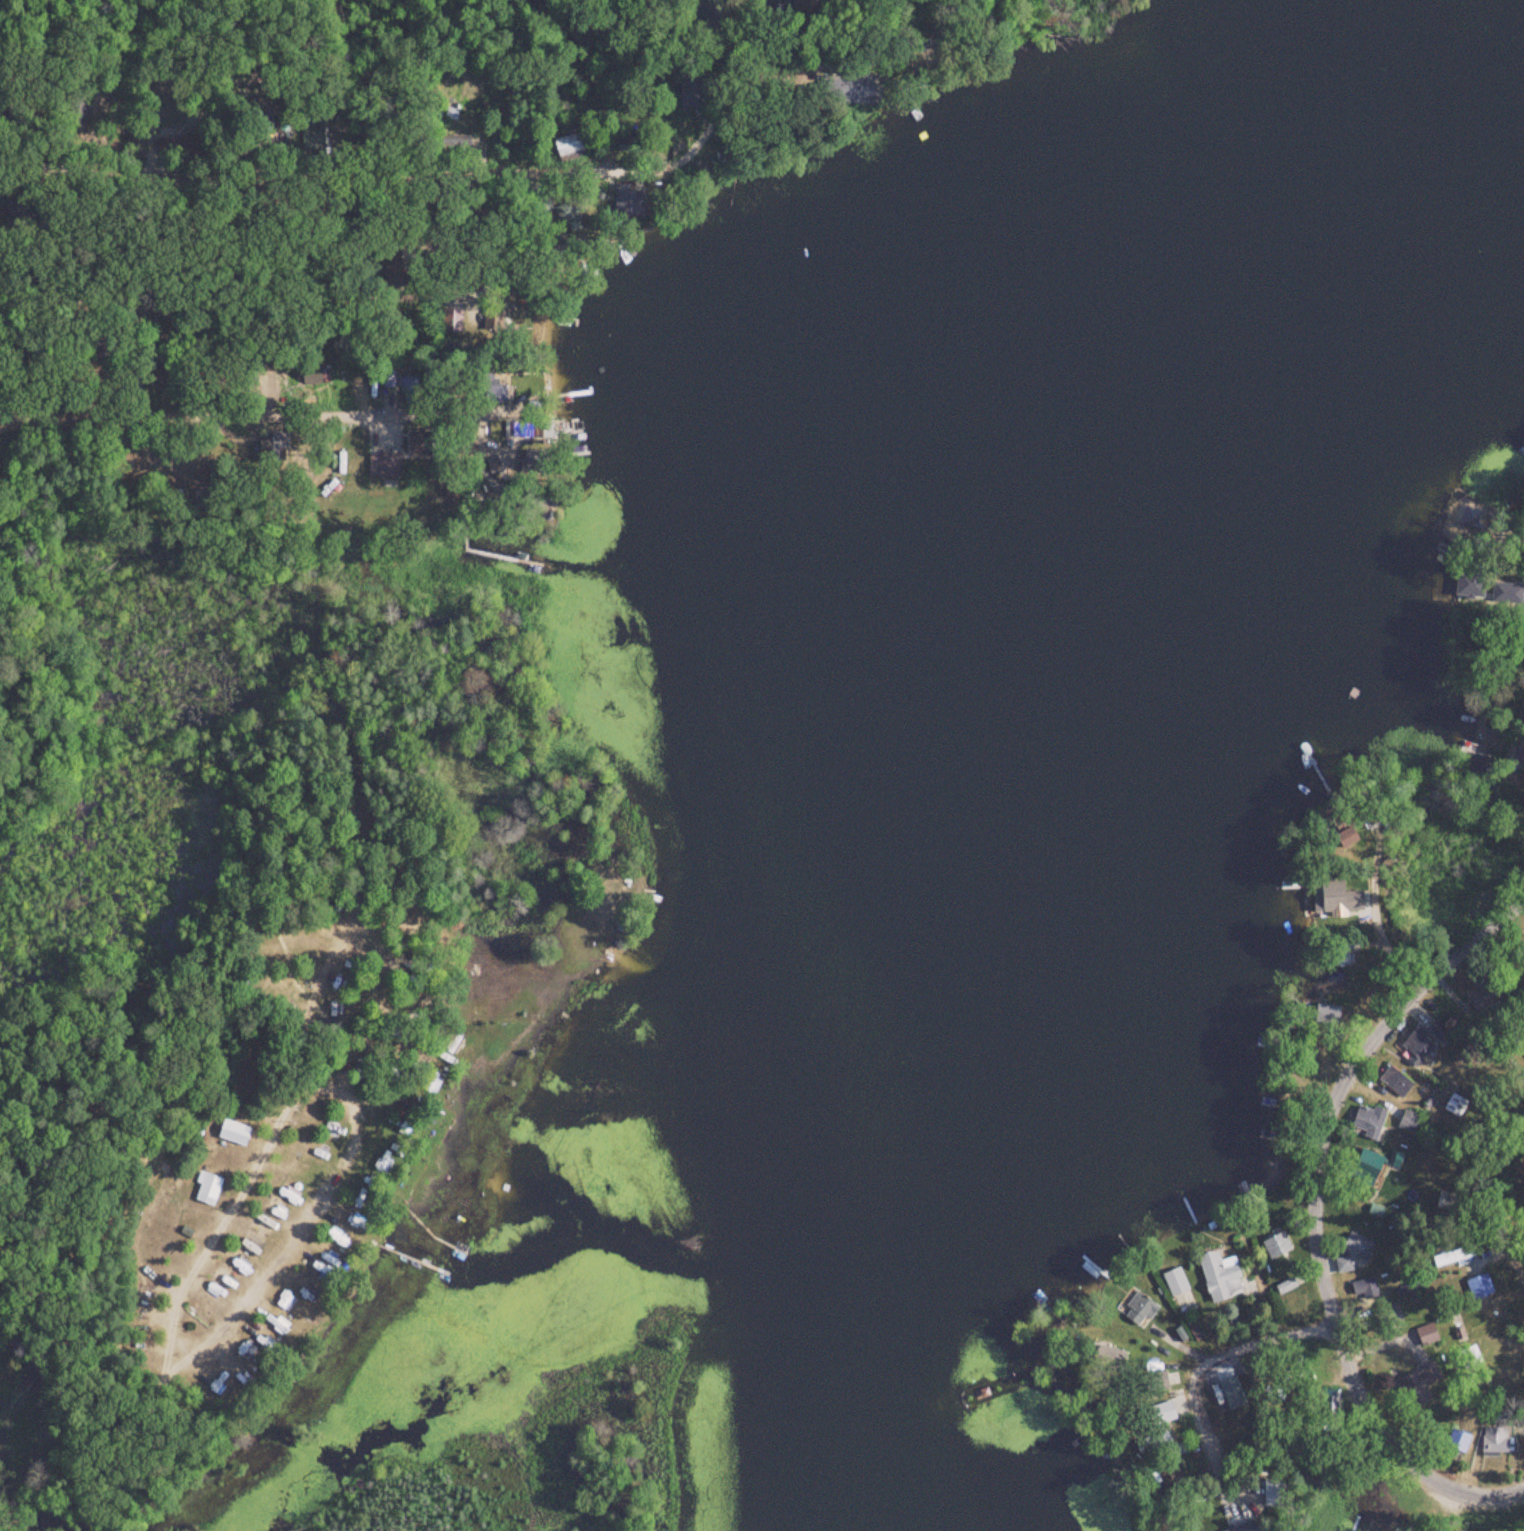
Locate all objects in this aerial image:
building: (688, 90)
road: (269, 152)
road: (244, 345)
road: (268, 392)
building: (421, 444)
building: (1472, 519)
road: (278, 525)
building: (1474, 587)
building: (1337, 895)
road: (1368, 903)
building: (1482, 1000)
road: (343, 1093)
building: (1408, 1121)
building: (234, 1133)
building: (380, 1162)
building: (208, 1190)
road: (1298, 1196)
road: (1487, 1198)
building: (1447, 1201)
building: (1274, 1247)
building: (1356, 1247)
building: (1220, 1279)
building: (1366, 1288)
building: (1478, 1288)
building: (1427, 1334)
road: (1182, 1338)
building: (1416, 1381)
building: (1494, 1440)
building: (1457, 1443)
road: (98, 1456)

